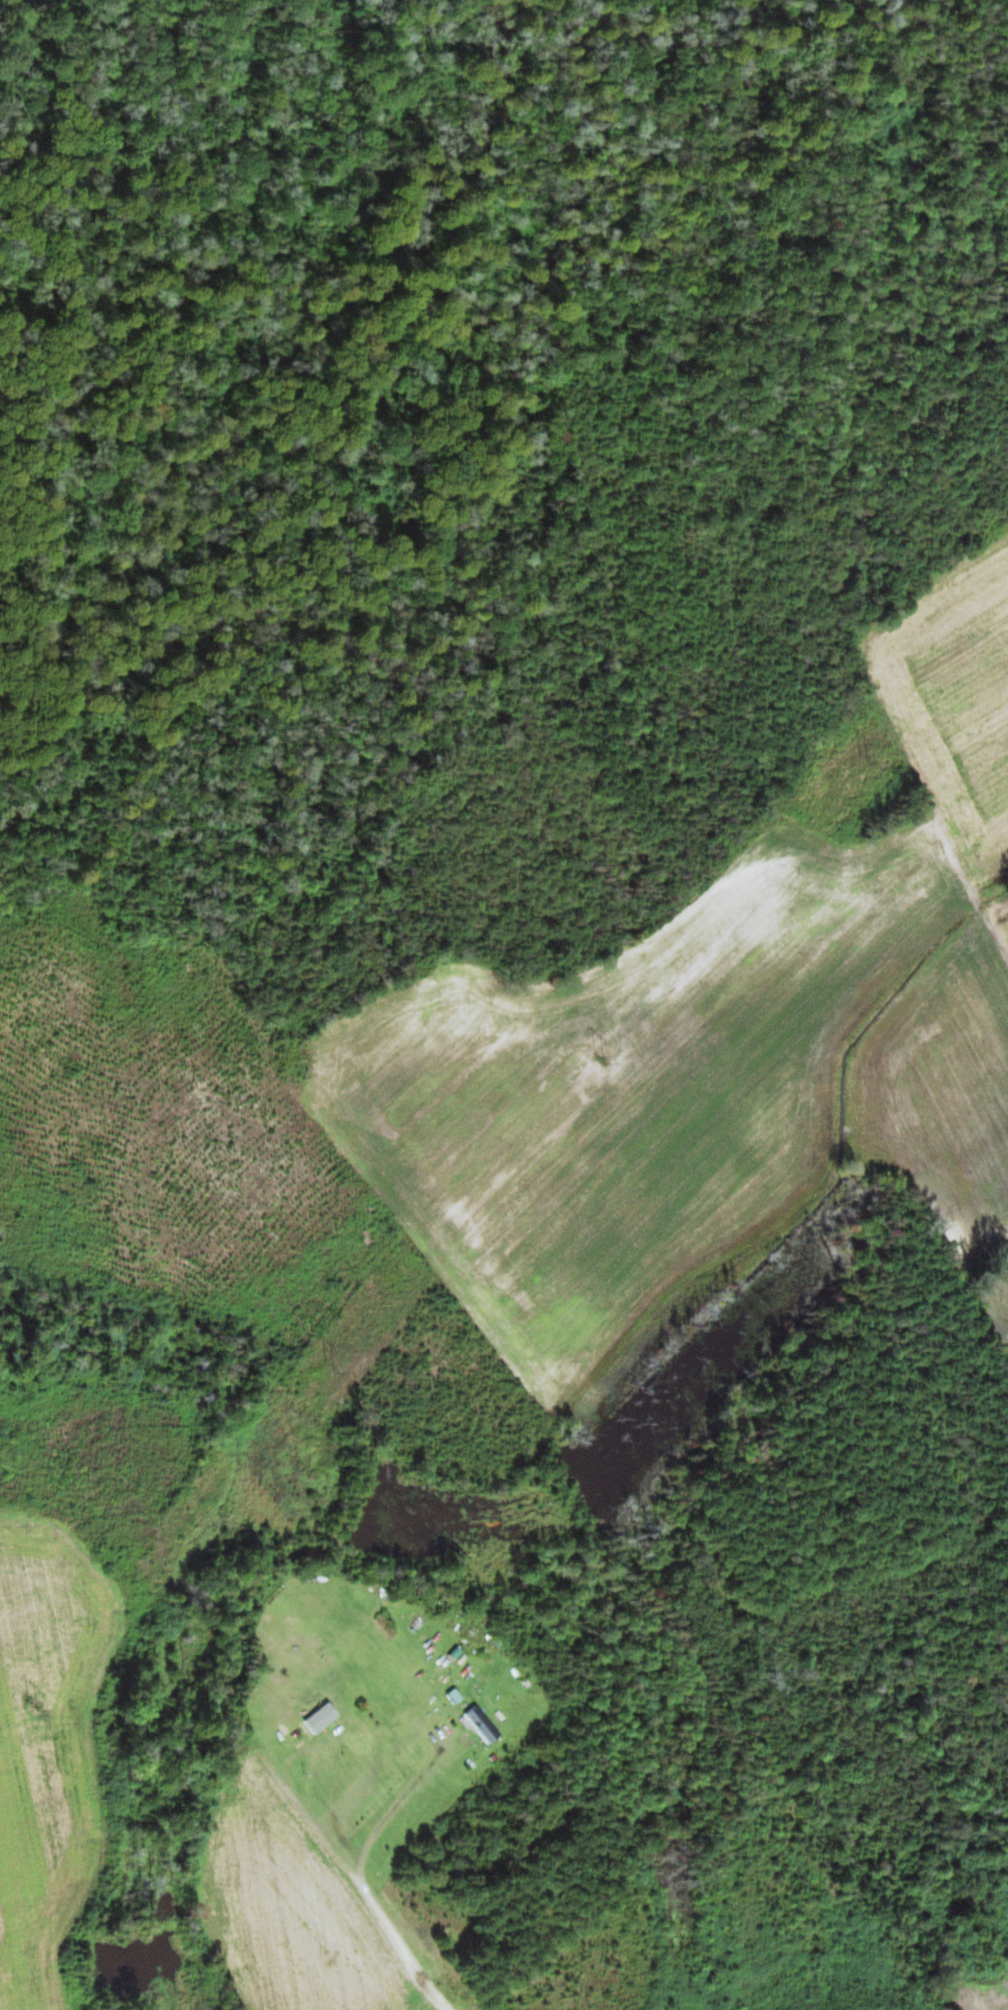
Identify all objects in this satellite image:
power tower: (866, 756)
power tower: (605, 1060)
power tower: (330, 1364)
building: (388, 1626)
power tower: (35, 1704)
building: (323, 1720)
building: (486, 1723)

